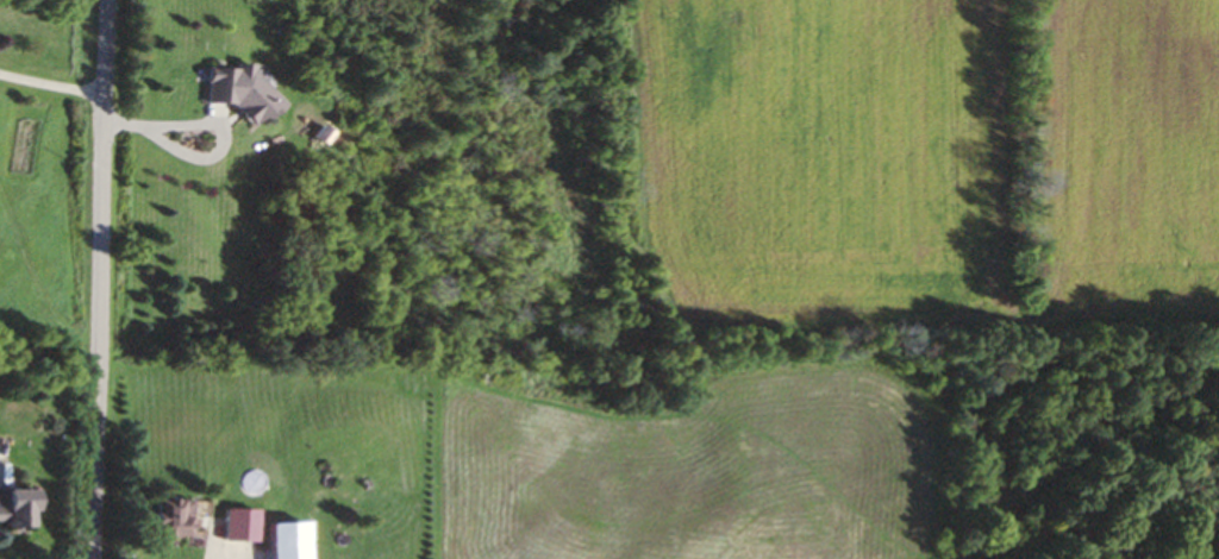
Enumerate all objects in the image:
road: (54, 87)
building: (233, 93)
road: (106, 279)
building: (14, 507)
building: (161, 519)
building: (235, 525)
road: (233, 558)

